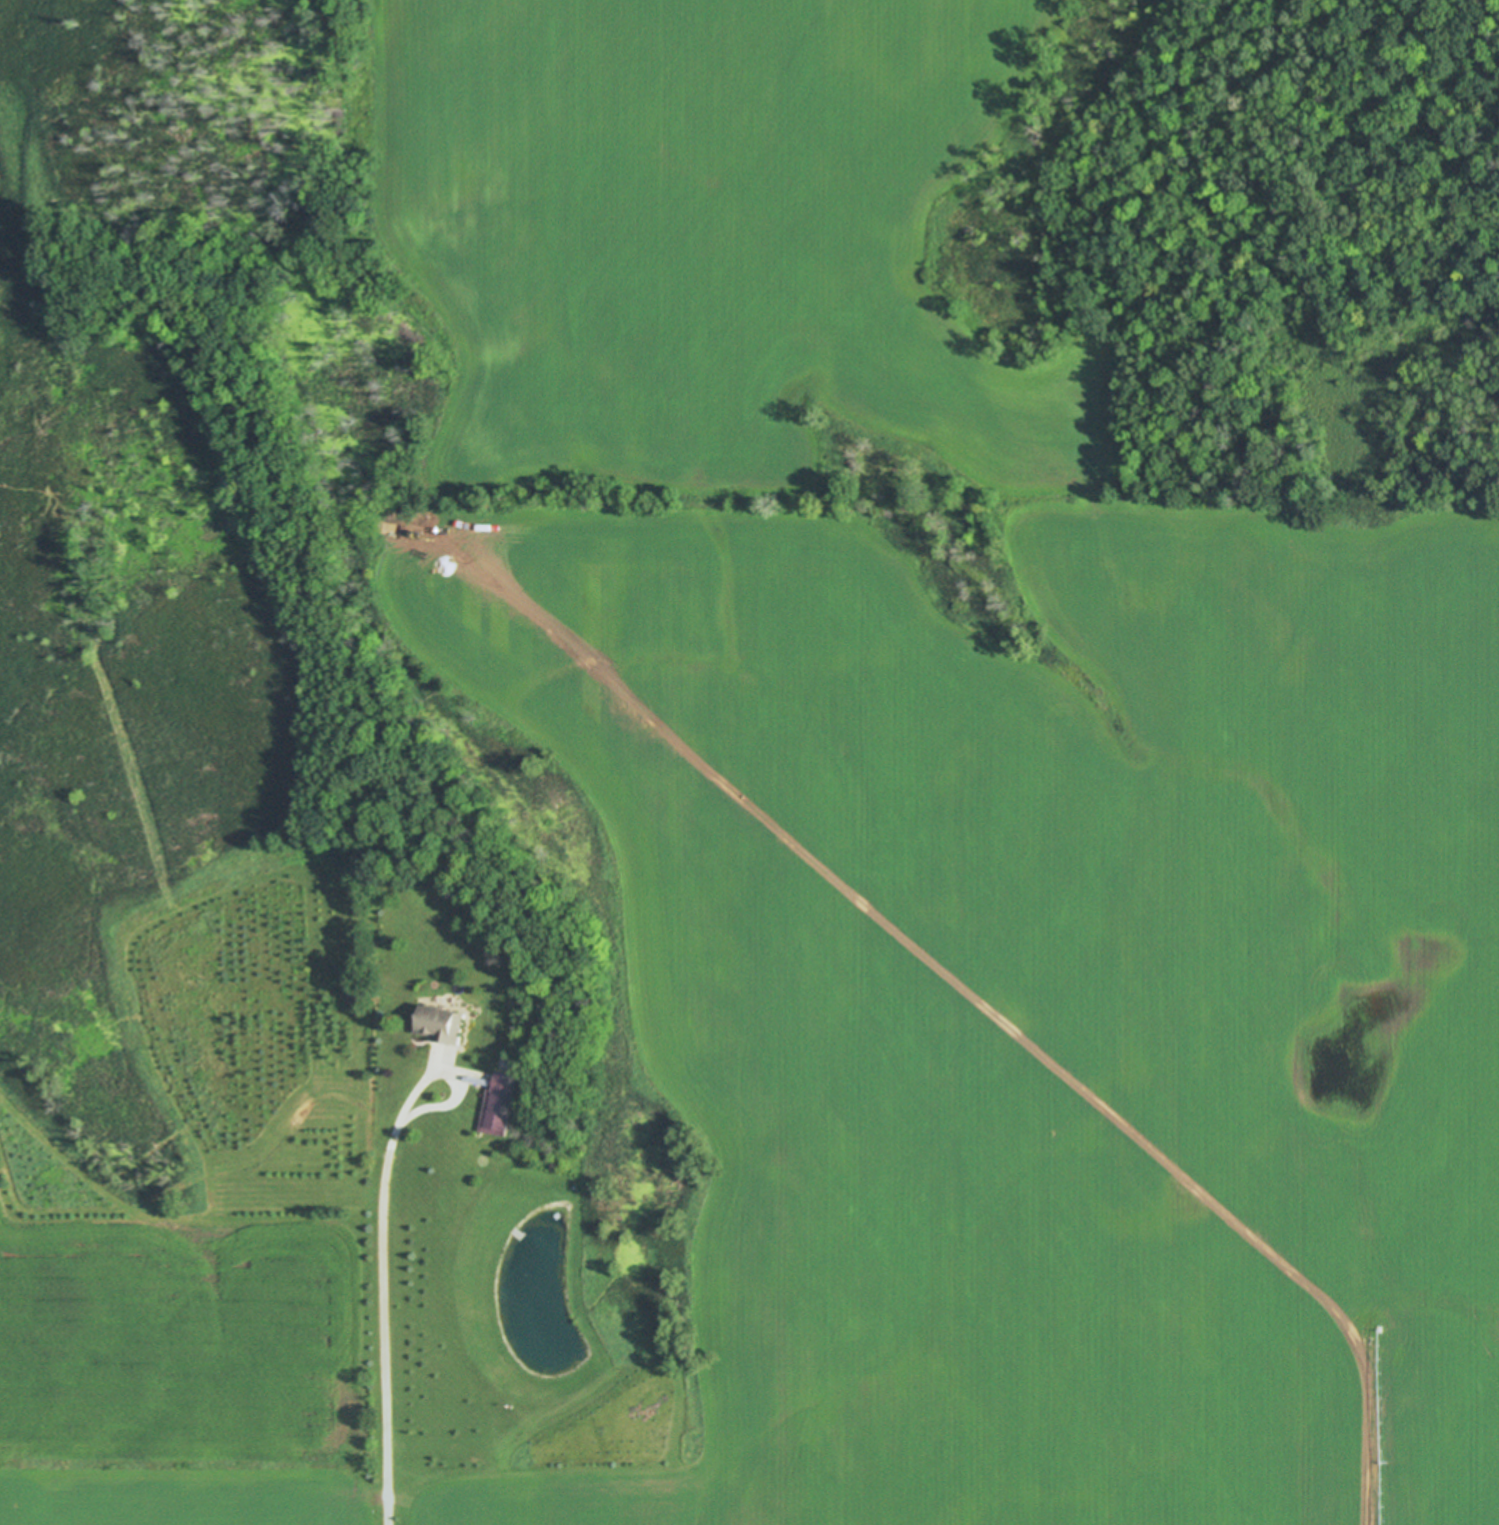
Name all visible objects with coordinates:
building: (451, 1024)
road: (457, 1077)
building: (497, 1103)
building: (512, 1104)
road: (389, 1319)

